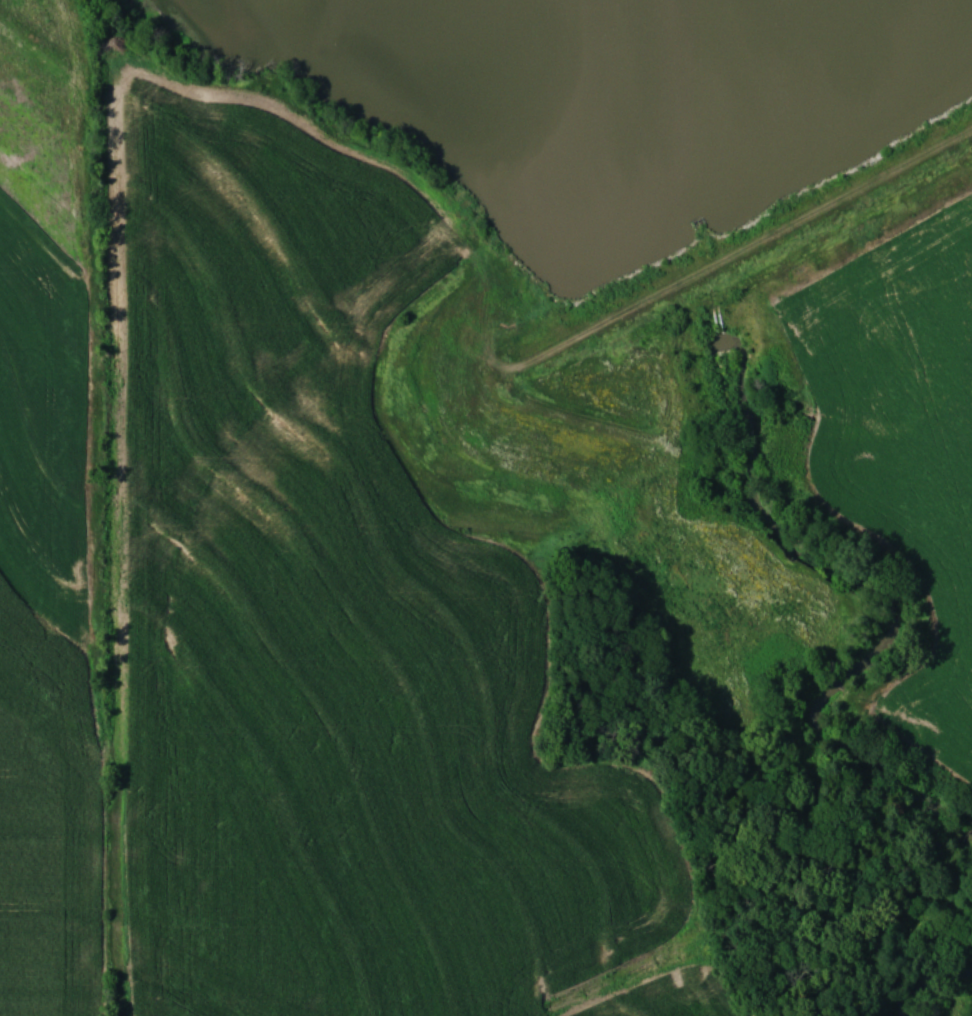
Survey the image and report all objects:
dam: (737, 250)

